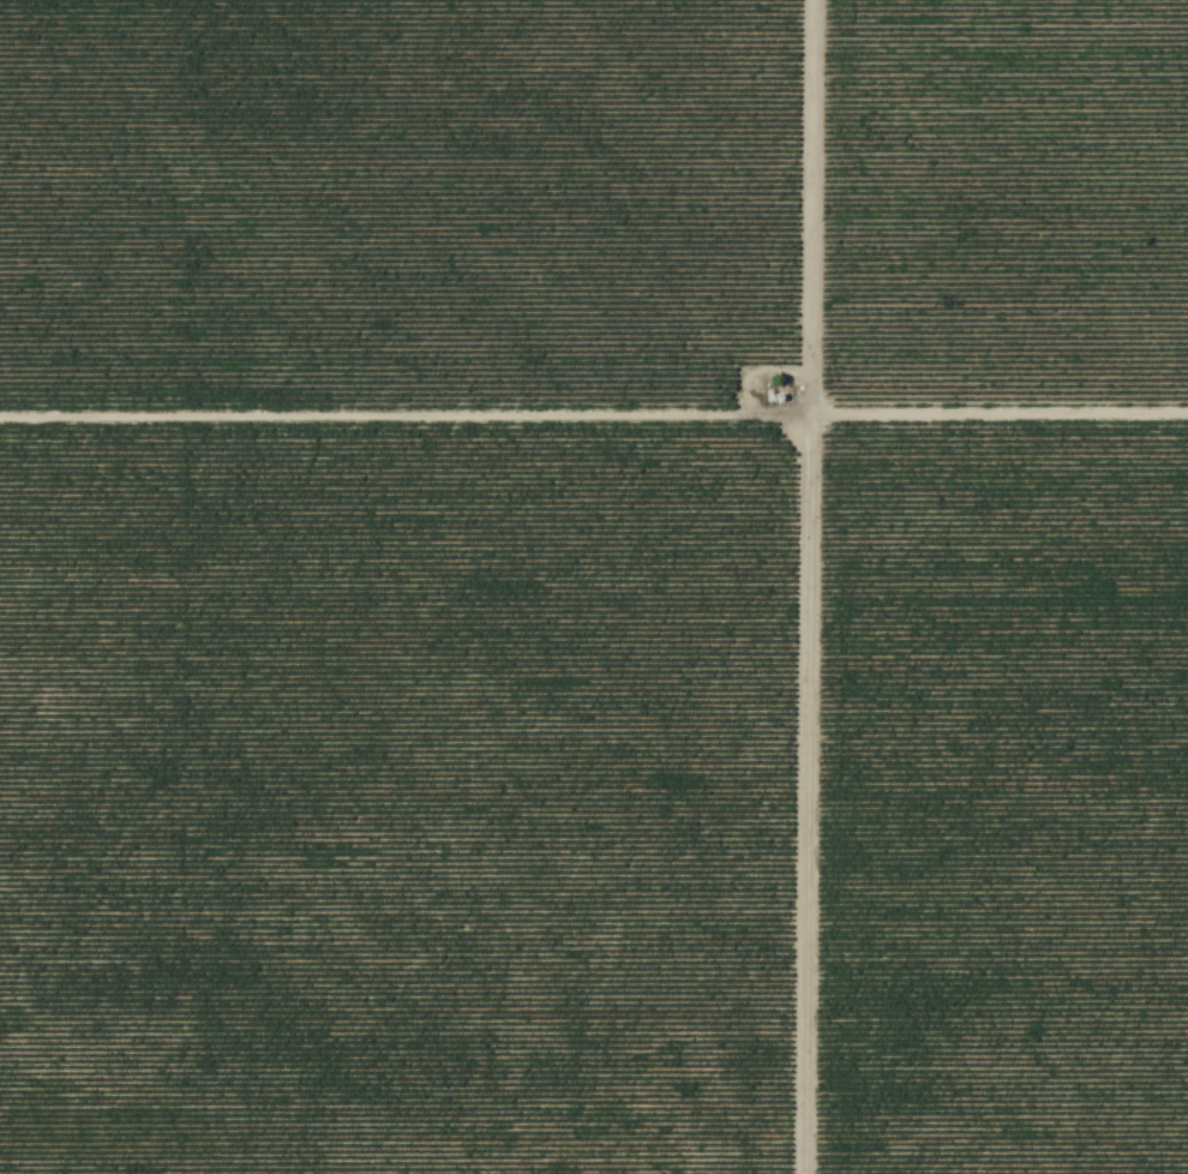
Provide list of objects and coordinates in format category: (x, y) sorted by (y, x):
crop: (391, 204)
crop: (1000, 208)
road: (594, 420)
road: (800, 587)
crop: (392, 802)
crop: (997, 802)

